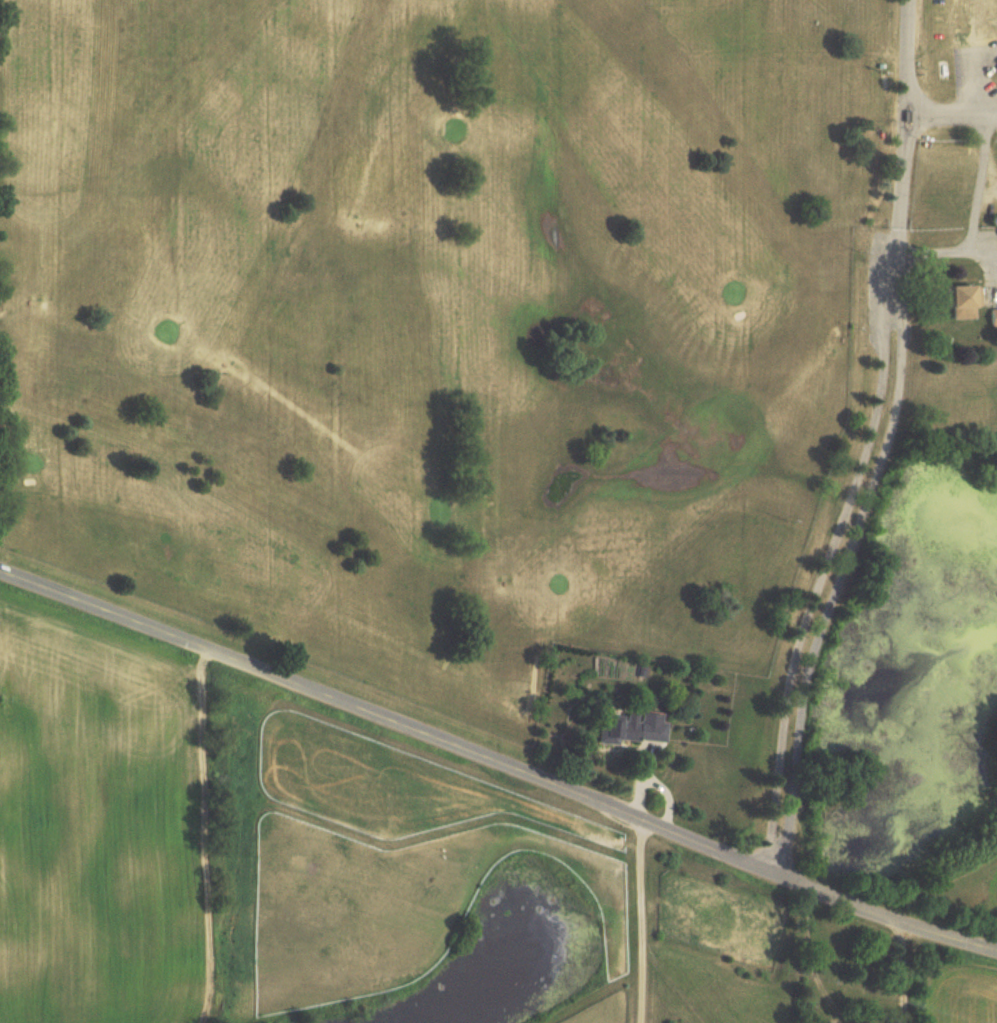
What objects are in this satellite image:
building: (996, 67)
building: (996, 70)
road: (950, 116)
road: (903, 119)
road: (978, 186)
road: (948, 250)
building: (959, 301)
building: (991, 318)
road: (838, 555)
building: (632, 728)
road: (496, 767)
road: (643, 923)
road: (901, 972)

